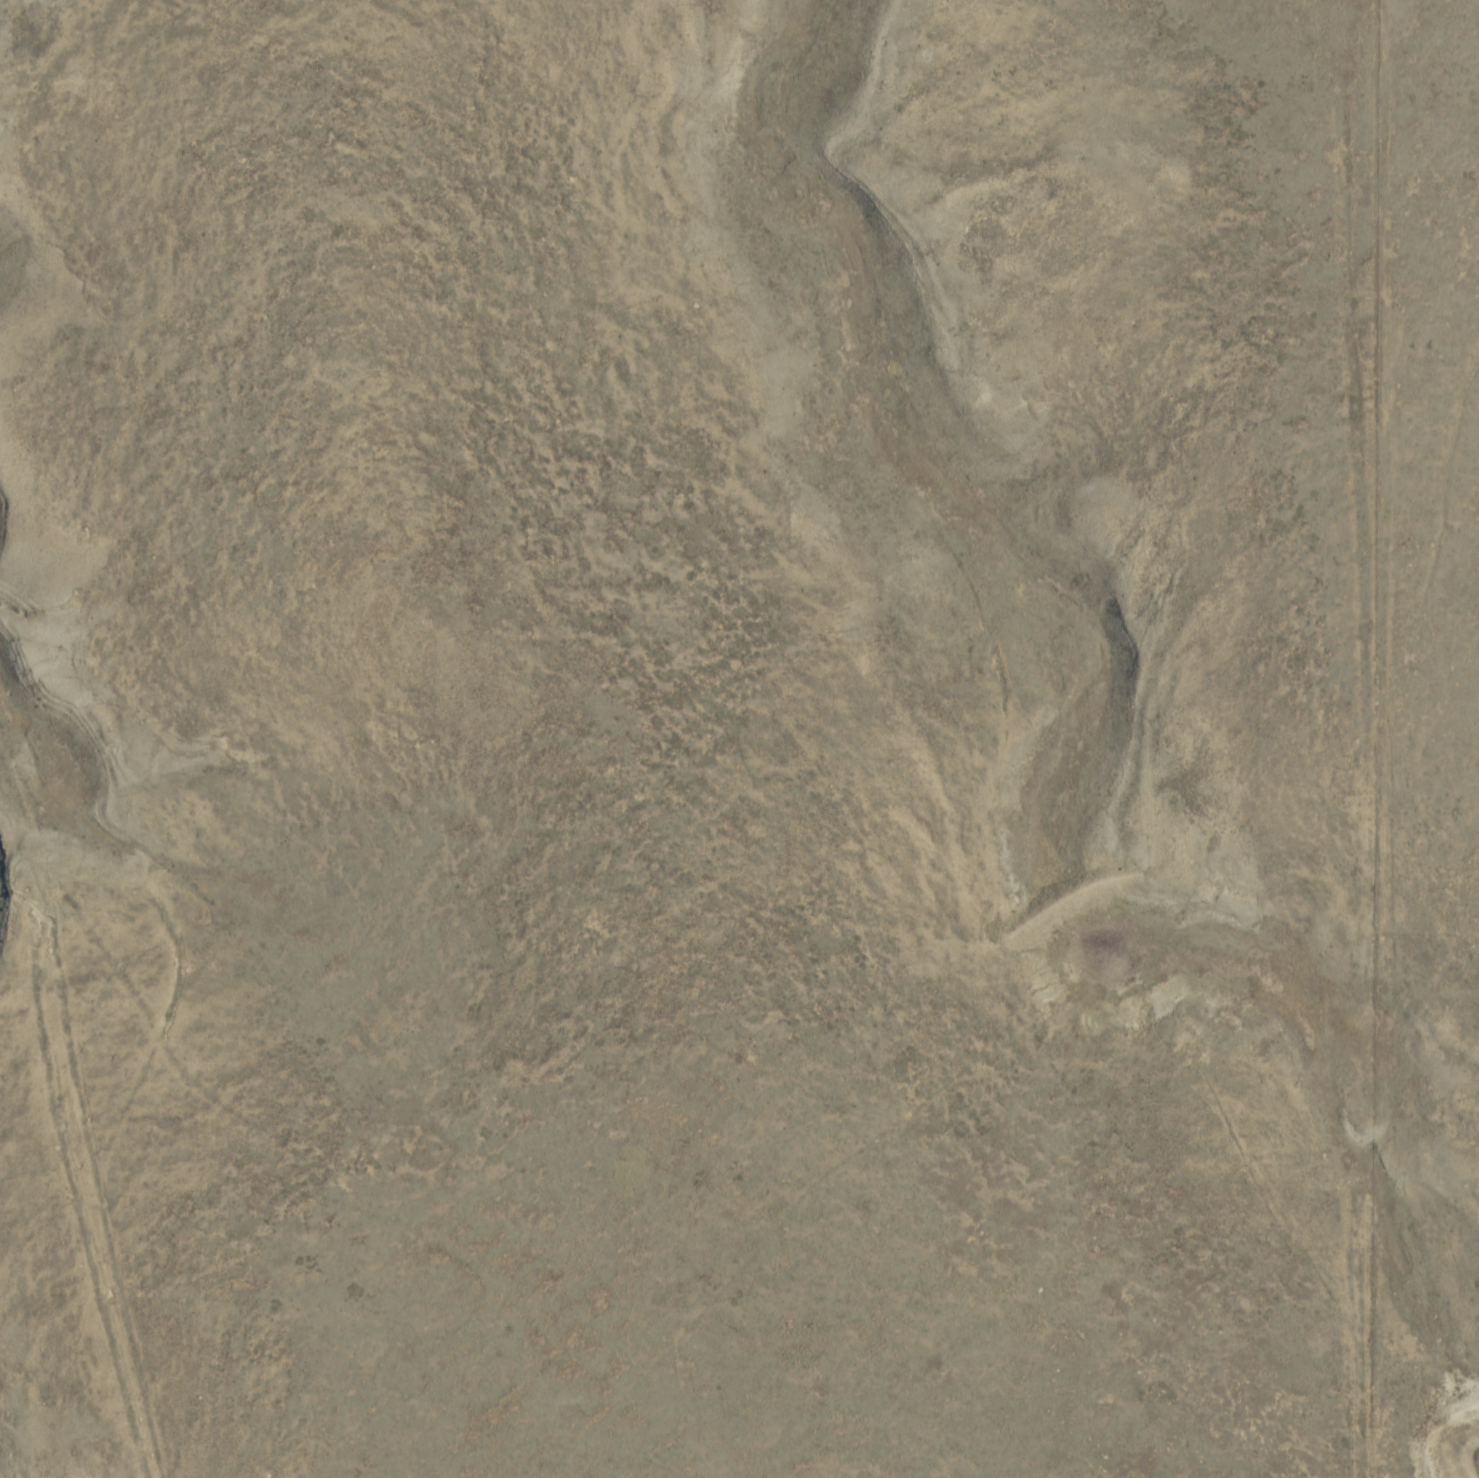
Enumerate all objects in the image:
road: (1317, 739)

